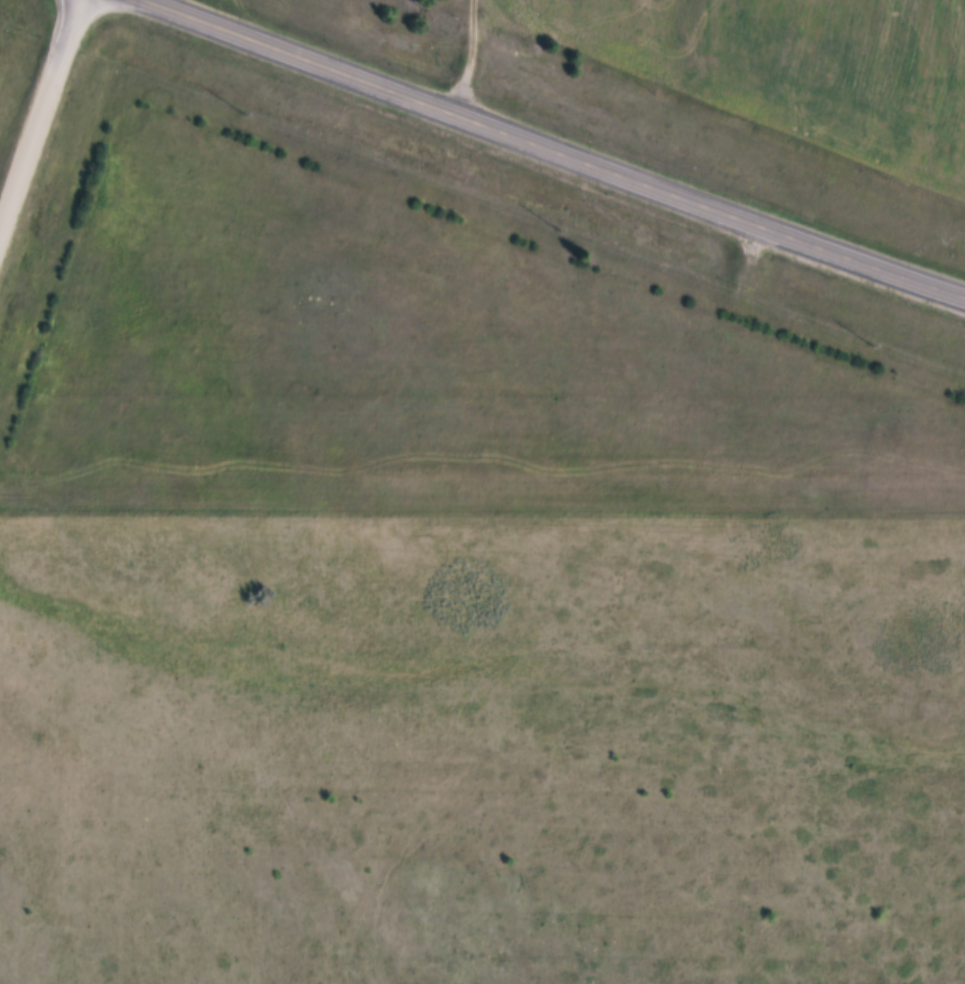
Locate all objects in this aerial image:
road: (39, 113)
road: (562, 145)

